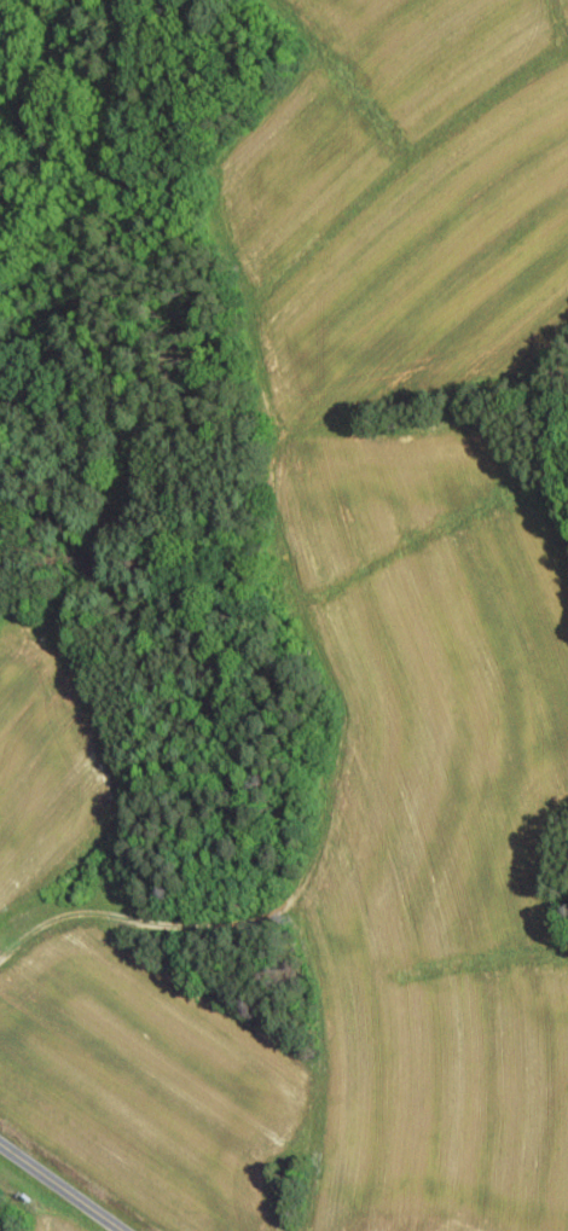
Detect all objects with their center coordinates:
road: (60, 1188)

